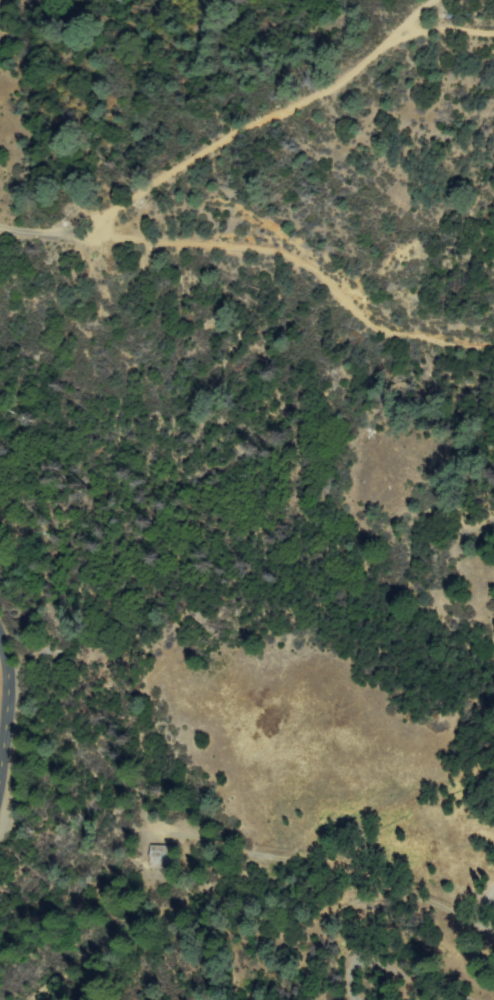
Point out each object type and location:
road: (2, 693)
building: (166, 857)
road: (385, 887)
road: (147, 921)

